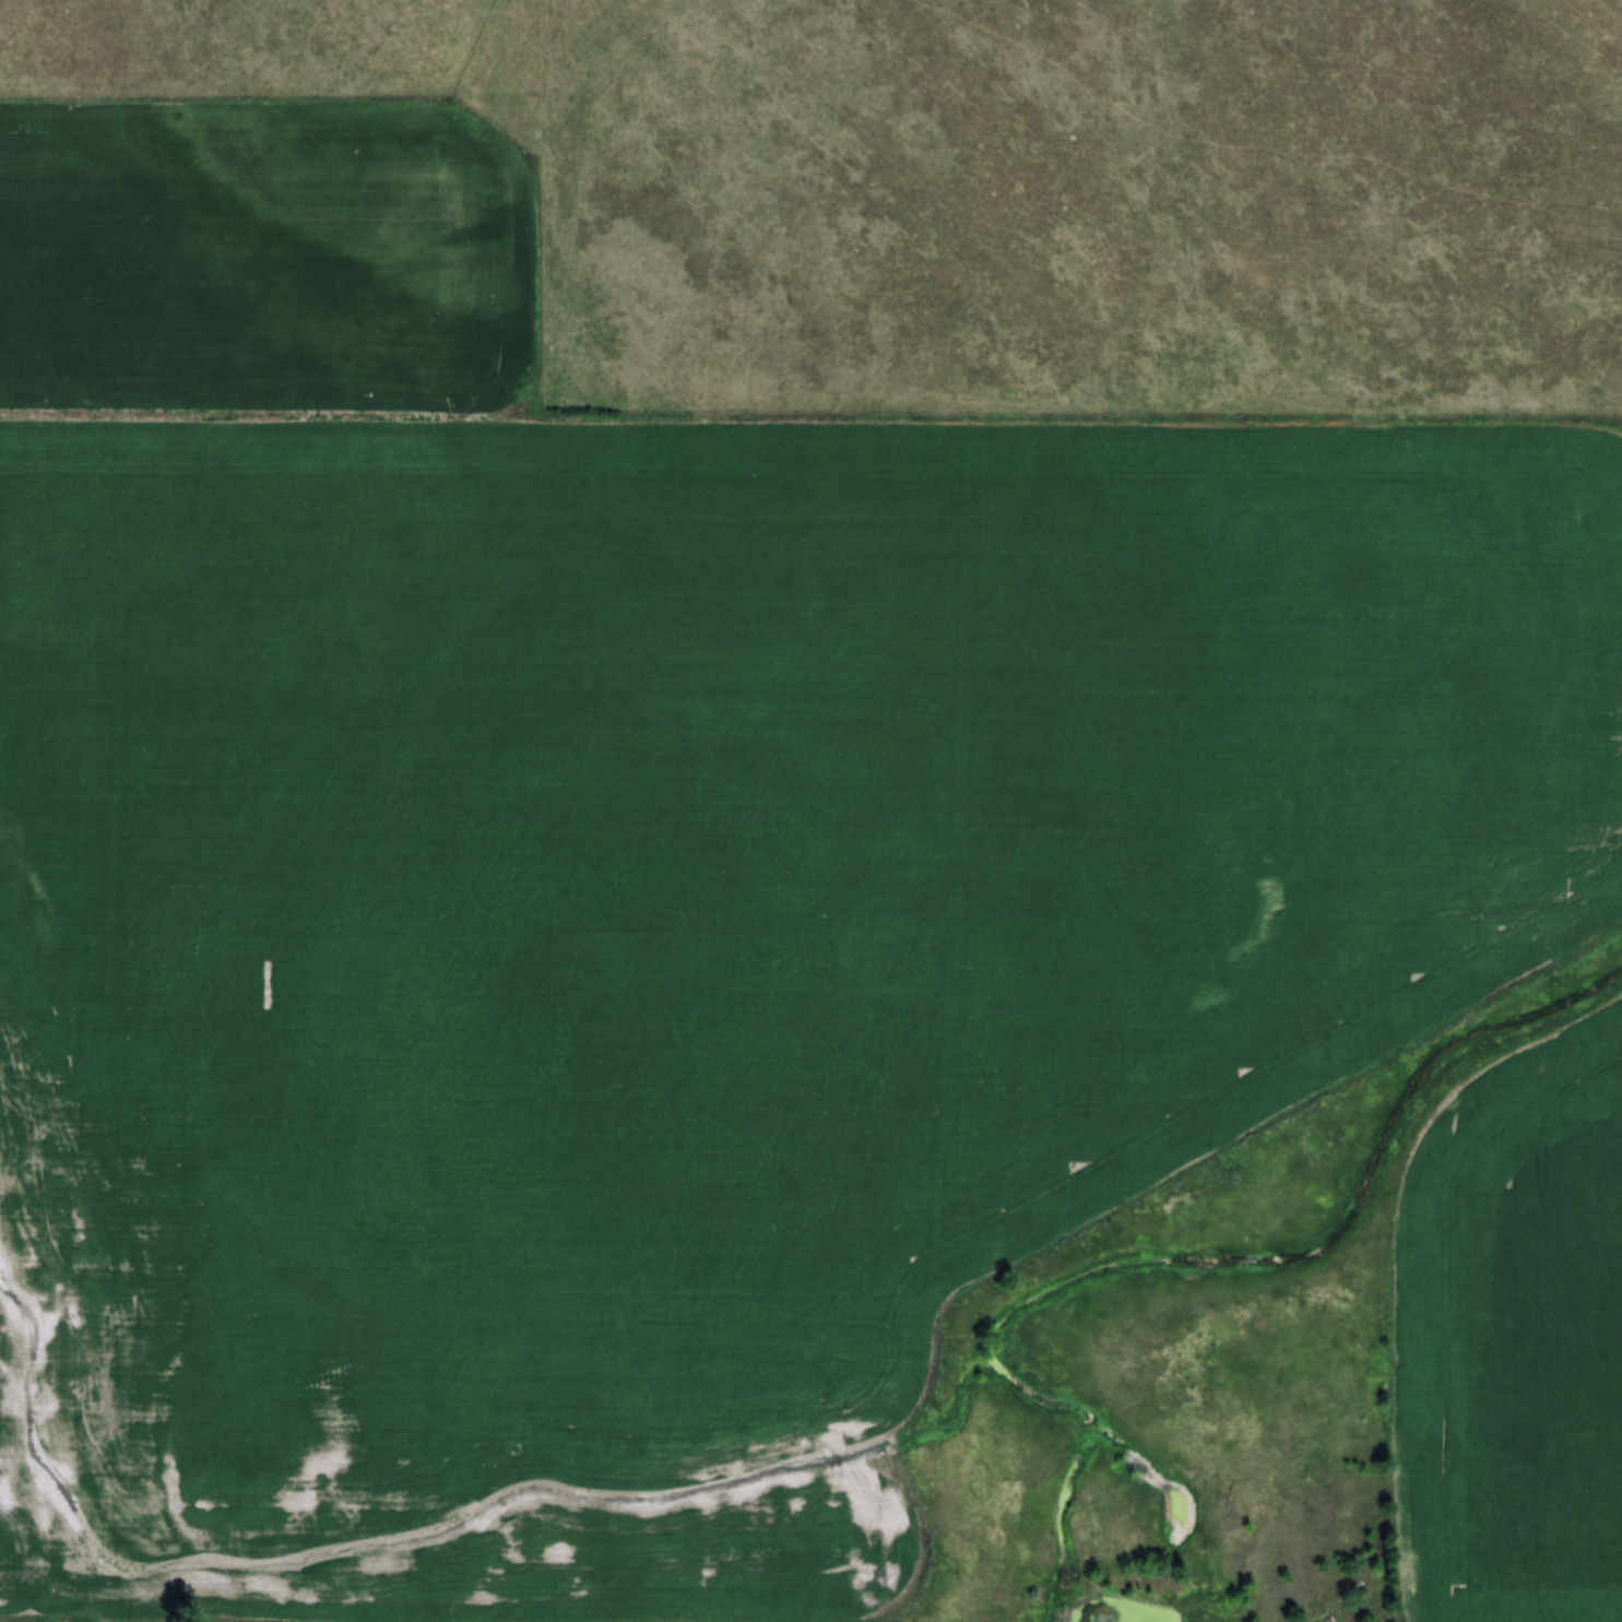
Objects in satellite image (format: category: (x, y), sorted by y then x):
crop: (1517, 1347)

